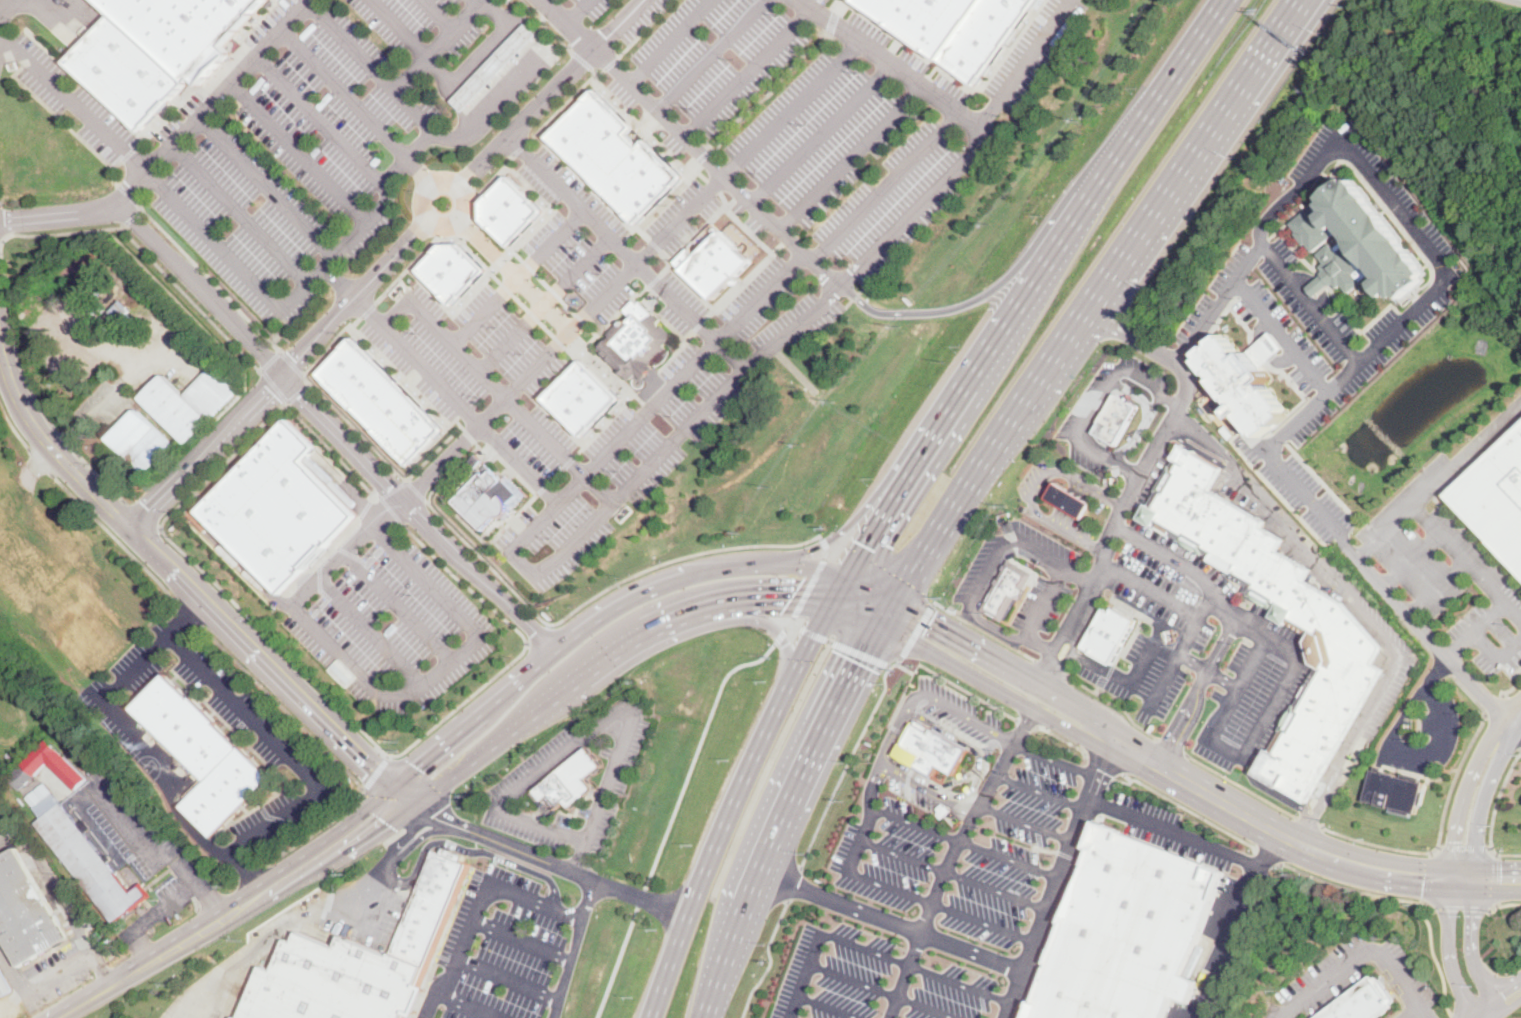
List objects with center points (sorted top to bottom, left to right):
road: (481, 1)
parking lot: (776, 1)
building: (283, 3)
parking lot: (596, 6)
road: (579, 10)
road: (443, 14)
parking lot: (818, 14)
road: (6, 17)
parking lot: (400, 18)
parking lot: (644, 19)
road: (833, 21)
parking lot: (267, 22)
road: (551, 27)
building: (952, 27)
road: (399, 28)
road: (648, 28)
building: (185, 30)
building: (307, 30)
road: (1, 38)
road: (674, 41)
road: (439, 44)
building: (401, 49)
parking lot: (1032, 50)
road: (487, 51)
parking lot: (720, 53)
road: (716, 54)
road: (585, 60)
road: (613, 62)
building: (387, 63)
road: (371, 65)
road: (894, 65)
building: (497, 66)
gas station: (497, 66)
road: (751, 70)
building: (123, 71)
road: (603, 73)
road: (529, 74)
building: (254, 84)
road: (456, 87)
road: (772, 90)
road: (345, 92)
road: (553, 93)
parking lot: (69, 100)
building: (323, 100)
road: (567, 103)
road: (72, 104)
road: (793, 107)
parking lot: (172, 114)
road: (54, 117)
road: (321, 120)
road: (824, 133)
road: (694, 141)
road: (173, 143)
road: (1346, 143)
parking lot: (861, 146)
road: (523, 147)
building: (313, 150)
road: (298, 153)
road: (121, 154)
road: (406, 154)
road: (969, 154)
building: (618, 155)
road: (851, 156)
road: (1192, 157)
building: (376, 160)
parking lot: (292, 169)
road: (419, 170)
road: (104, 171)
road: (496, 176)
road: (532, 186)
road: (886, 187)
road: (263, 188)
parking lot: (720, 190)
parking lot: (1378, 190)
road: (121, 194)
road: (574, 200)
road: (381, 203)
road: (133, 206)
building: (511, 208)
road: (429, 213)
road: (236, 216)
road: (125, 217)
building: (342, 217)
road: (115, 225)
road: (349, 239)
parking lot: (585, 239)
building: (1363, 239)
road: (210, 243)
road: (143, 257)
building: (720, 263)
road: (405, 268)
building: (452, 269)
road: (516, 274)
road: (206, 276)
road: (520, 278)
road: (337, 282)
road: (1029, 282)
road: (304, 284)
road: (619, 285)
road: (1319, 285)
parking lot: (1218, 295)
parking lot: (760, 297)
building: (68, 299)
road: (1220, 299)
parking lot: (678, 302)
road: (679, 303)
parking lot: (1310, 303)
road: (547, 304)
road: (951, 306)
road: (365, 309)
building: (115, 314)
road: (354, 320)
parking lot: (796, 323)
road: (1130, 334)
road: (1283, 334)
parking lot: (1286, 334)
road: (328, 341)
building: (636, 345)
road: (459, 349)
parking lot: (462, 349)
road: (1267, 350)
road: (16, 354)
road: (731, 356)
road: (267, 359)
road: (290, 361)
road: (416, 362)
parking lot: (1366, 362)
building: (215, 369)
parking lot: (1145, 370)
road: (283, 374)
road: (682, 378)
road: (270, 384)
building: (1243, 385)
road: (1035, 388)
road: (294, 391)
road: (109, 396)
building: (588, 397)
building: (381, 400)
parking lot: (1086, 400)
building: (191, 402)
road: (1096, 404)
road: (1154, 404)
building: (1115, 417)
road: (1175, 420)
road: (1143, 423)
road: (12, 424)
road: (332, 424)
road: (65, 440)
building: (141, 442)
road: (328, 449)
road: (560, 449)
road: (433, 451)
road: (1266, 451)
road: (40, 459)
parking lot: (1086, 460)
road: (444, 461)
parking lot: (604, 463)
road: (449, 471)
road: (100, 477)
parking lot: (1031, 479)
parking lot: (1153, 479)
road: (1088, 485)
parking lot: (1296, 485)
road: (345, 487)
road: (393, 487)
road: (1036, 487)
road: (417, 489)
building: (486, 493)
parking lot: (1242, 493)
building: (1496, 498)
building: (1068, 500)
road: (1067, 501)
road: (609, 505)
road: (1075, 506)
building: (277, 507)
road: (389, 507)
road: (387, 511)
road: (140, 515)
road: (856, 515)
road: (940, 530)
road: (1068, 531)
road: (115, 536)
road: (1010, 536)
road: (824, 540)
parking lot: (1415, 540)
traffic signals: (871, 545)
road: (1455, 552)
road: (827, 553)
road: (1355, 555)
road: (1409, 557)
road: (235, 561)
parking lot: (979, 562)
road: (1183, 563)
road: (998, 566)
road: (189, 586)
road: (810, 586)
road: (874, 587)
road: (1149, 587)
parking lot: (1496, 587)
road: (1435, 588)
building: (1007, 590)
road: (841, 591)
road: (602, 592)
flagpole: (1238, 595)
road: (771, 598)
traffic signals: (789, 598)
flagpole: (1247, 599)
road: (398, 603)
parking lot: (1041, 605)
road: (1079, 605)
road: (189, 611)
road: (1361, 611)
road: (887, 613)
road: (1511, 614)
building: (1276, 617)
road: (187, 619)
parking lot: (387, 619)
traffic signals: (931, 619)
road: (791, 623)
road: (767, 624)
road: (474, 627)
road: (917, 628)
road: (369, 629)
road: (985, 629)
road: (1031, 629)
road: (541, 633)
building: (1109, 633)
road: (781, 634)
road: (810, 640)
road: (1480, 643)
road: (838, 644)
road: (1041, 644)
road: (1456, 644)
parking lot: (1200, 645)
road: (1177, 650)
parking lot: (146, 657)
traffic signals: (859, 663)
road: (1194, 664)
road: (1050, 666)
road: (1433, 671)
road: (853, 674)
road: (1287, 676)
road: (1029, 678)
road: (1125, 679)
road: (954, 680)
road: (513, 683)
road: (1510, 685)
road: (995, 686)
road: (555, 692)
road: (1196, 692)
road: (901, 698)
parking lot: (959, 701)
road: (1489, 701)
road: (1113, 702)
parking lot: (1386, 702)
road: (281, 704)
road: (338, 704)
road: (1226, 704)
road: (1514, 710)
road: (967, 717)
road: (1435, 717)
road: (256, 719)
parking lot: (956, 721)
road: (1025, 722)
road: (1515, 723)
road: (895, 726)
road: (1023, 726)
road: (1391, 728)
road: (1060, 736)
parking lot: (1441, 737)
road: (581, 739)
road: (1170, 745)
parking lot: (262, 749)
building: (932, 749)
road: (697, 753)
building: (203, 754)
road: (850, 757)
building: (91, 759)
road: (1054, 760)
road: (1104, 761)
building: (56, 763)
traffic signals: (369, 766)
traffic signals: (417, 766)
road: (975, 768)
road: (376, 770)
road: (424, 775)
building: (23, 777)
parking lot: (573, 780)
building: (570, 782)
road: (158, 784)
road: (869, 784)
road: (1240, 784)
road: (926, 788)
road: (1270, 788)
building: (1390, 789)
road: (968, 790)
road: (1464, 790)
parking lot: (912, 792)
road: (1039, 792)
road: (1496, 794)
road: (1481, 795)
building: (39, 796)
road: (1189, 808)
road: (423, 809)
building: (943, 809)
road: (384, 810)
road: (430, 811)
road: (1442, 812)
traffic signals: (431, 814)
road: (1307, 820)
parking lot: (127, 822)
traffic signals: (387, 822)
road: (1025, 822)
parking lot: (1164, 827)
road: (320, 830)
road: (3, 832)
road: (1170, 832)
road: (774, 836)
road: (858, 838)
traffic signals: (1453, 840)
road: (964, 842)
road: (715, 844)
road: (1463, 846)
road: (399, 851)
parking lot: (981, 851)
road: (170, 852)
road: (477, 853)
road: (1503, 853)
road: (1329, 854)
road: (1268, 855)
building: (88, 860)
road: (577, 861)
road: (247, 864)
road: (320, 864)
road: (560, 865)
traffic signals: (1424, 872)
road: (952, 874)
road: (1429, 876)
road: (943, 877)
road: (1495, 877)
traffic signals: (1500, 878)
road: (794, 881)
road: (1056, 882)
road: (53, 887)
road: (1356, 888)
road: (642, 898)
road: (211, 900)
road: (534, 900)
road: (1504, 902)
road: (940, 904)
road: (1460, 906)
building: (26, 912)
traffic signals: (1472, 916)
road: (891, 921)
road: (1233, 921)
road: (1471, 925)
building: (1123, 930)
road: (275, 935)
road: (522, 937)
road: (142, 944)
parking lot: (513, 946)
road: (1357, 947)
road: (575, 948)
road: (1449, 948)
road: (456, 951)
road: (1435, 957)
road: (771, 958)
building: (362, 962)
road: (619, 963)
road: (140, 967)
road: (11, 968)
road: (100, 968)
road: (916, 969)
road: (55, 970)
road: (805, 976)
road: (1499, 978)
road: (507, 979)
parking lot: (879, 981)
building: (4, 985)
road: (716, 986)
road: (1486, 988)
road: (880, 991)
road: (1505, 994)
building: (1361, 1001)
road: (469, 1004)
road: (826, 1007)
road: (1482, 1011)
road: (1424, 1013)
road: (1454, 1016)
road: (1474, 1017)

